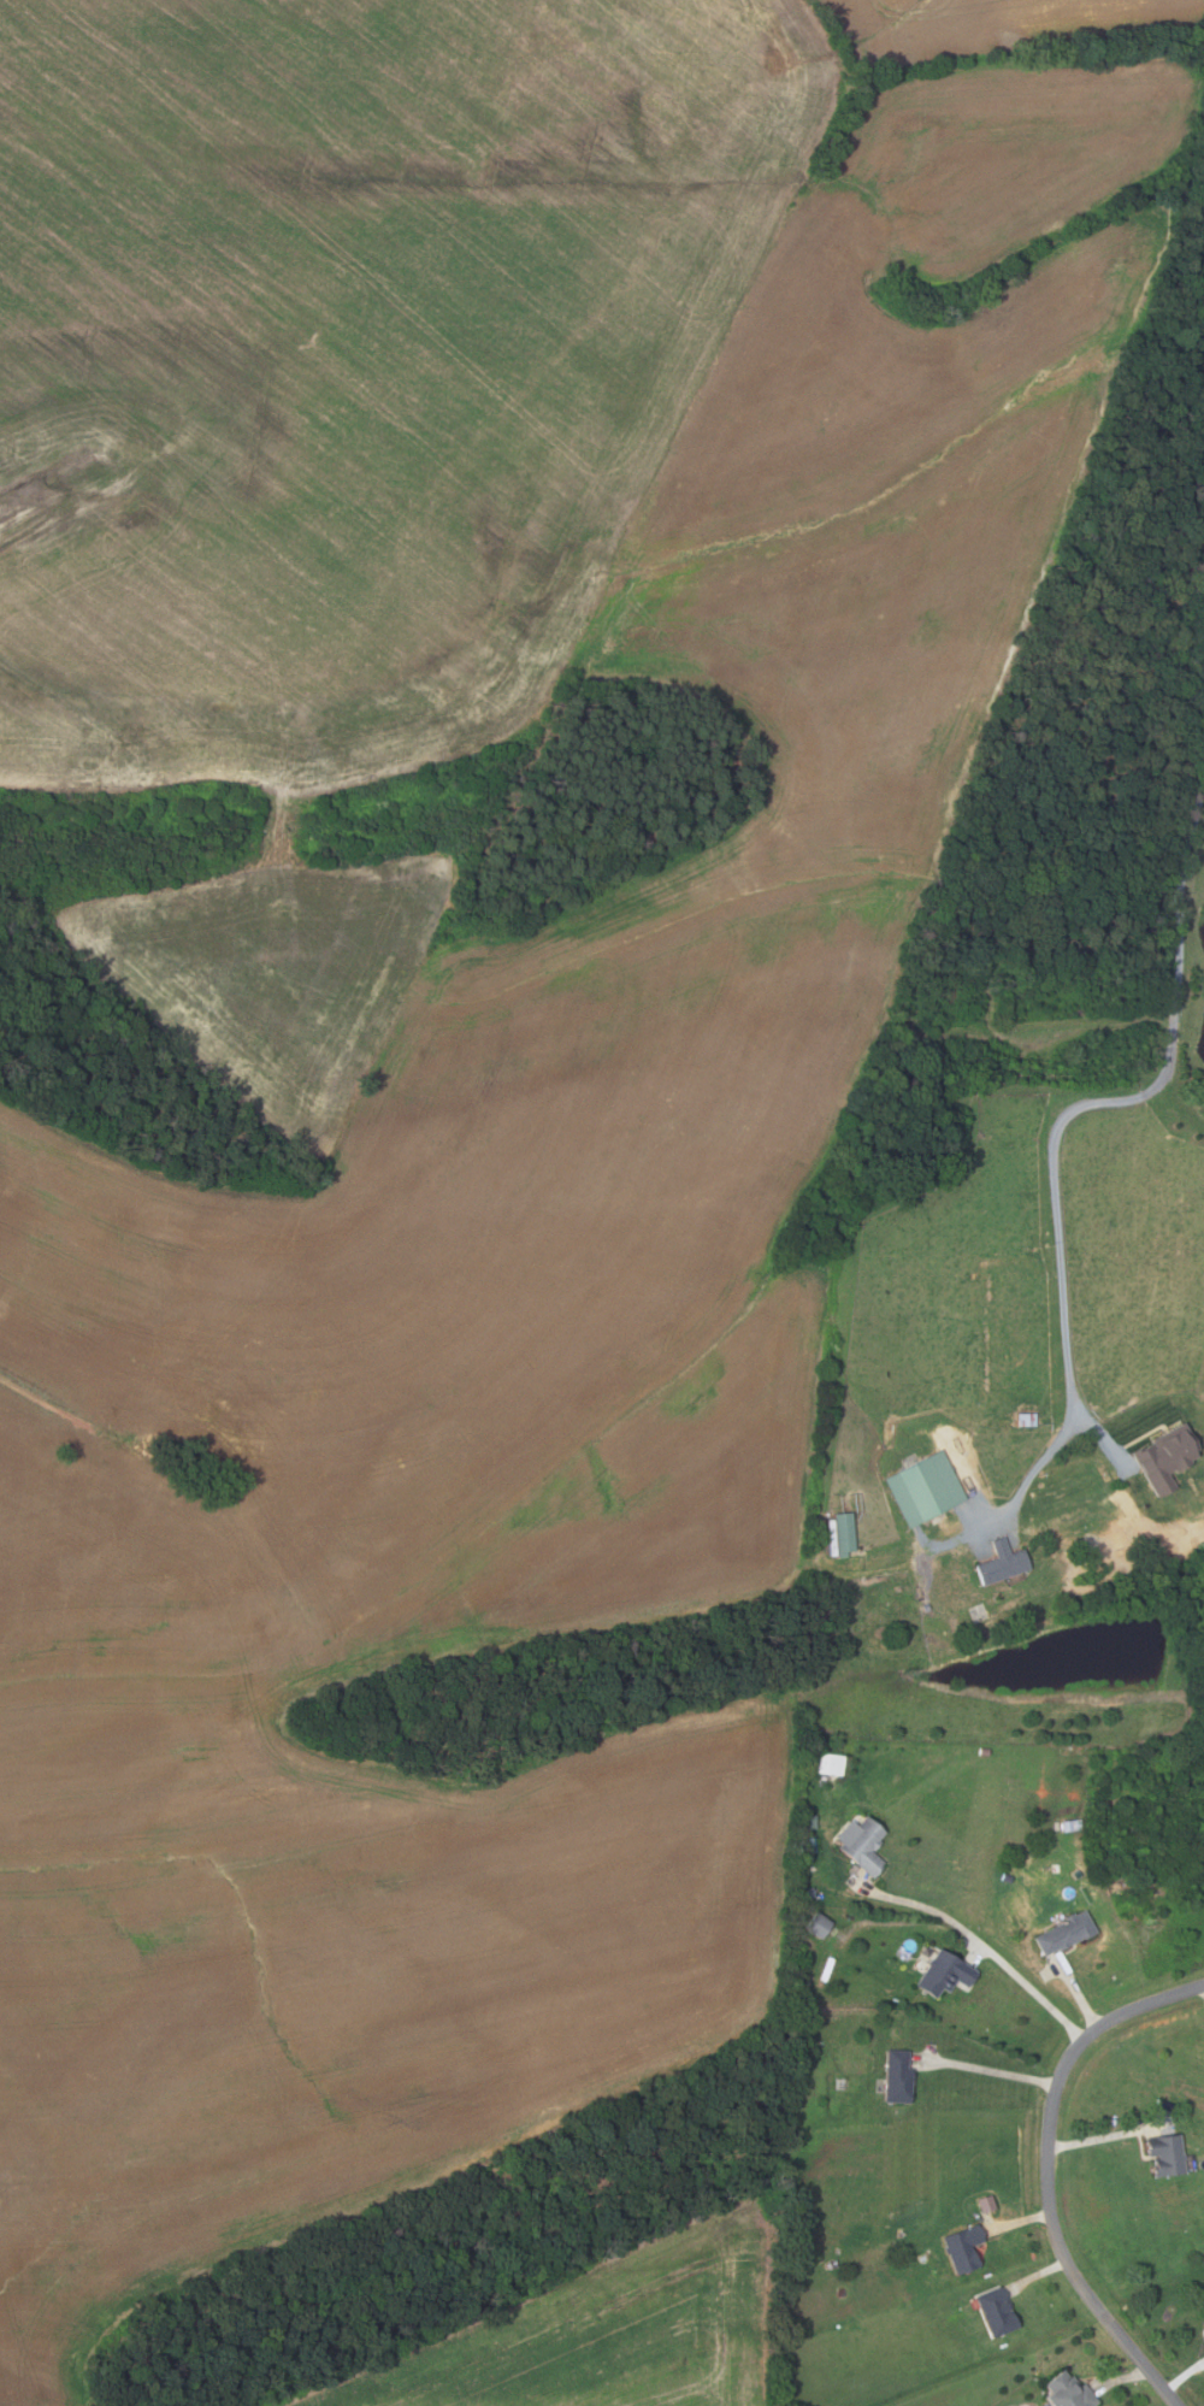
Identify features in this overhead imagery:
crop: (990, 24)
crop: (456, 1016)
road: (1129, 1098)
road: (41, 1375)
building: (1025, 1419)
road: (1099, 1431)
road: (1045, 1456)
building: (1163, 1456)
building: (922, 1488)
building: (844, 1534)
building: (1003, 1562)
building: (828, 1763)
building: (810, 1821)
building: (1070, 1824)
building: (810, 1844)
building: (861, 1844)
building: (1075, 1873)
building: (807, 1893)
building: (819, 1926)
building: (1063, 1933)
road: (988, 1940)
building: (944, 1974)
road: (1079, 1994)
road: (991, 2068)
building: (897, 2076)
road: (1109, 2134)
building: (1167, 2154)
road: (1049, 2174)
building: (980, 2202)
road: (1017, 2222)
building: (963, 2248)
building: (787, 2263)
road: (1037, 2275)
building: (996, 2312)
building: (1202, 2317)
crop: (600, 2334)
road: (1185, 2376)
road: (1123, 2378)
building: (1068, 2392)

